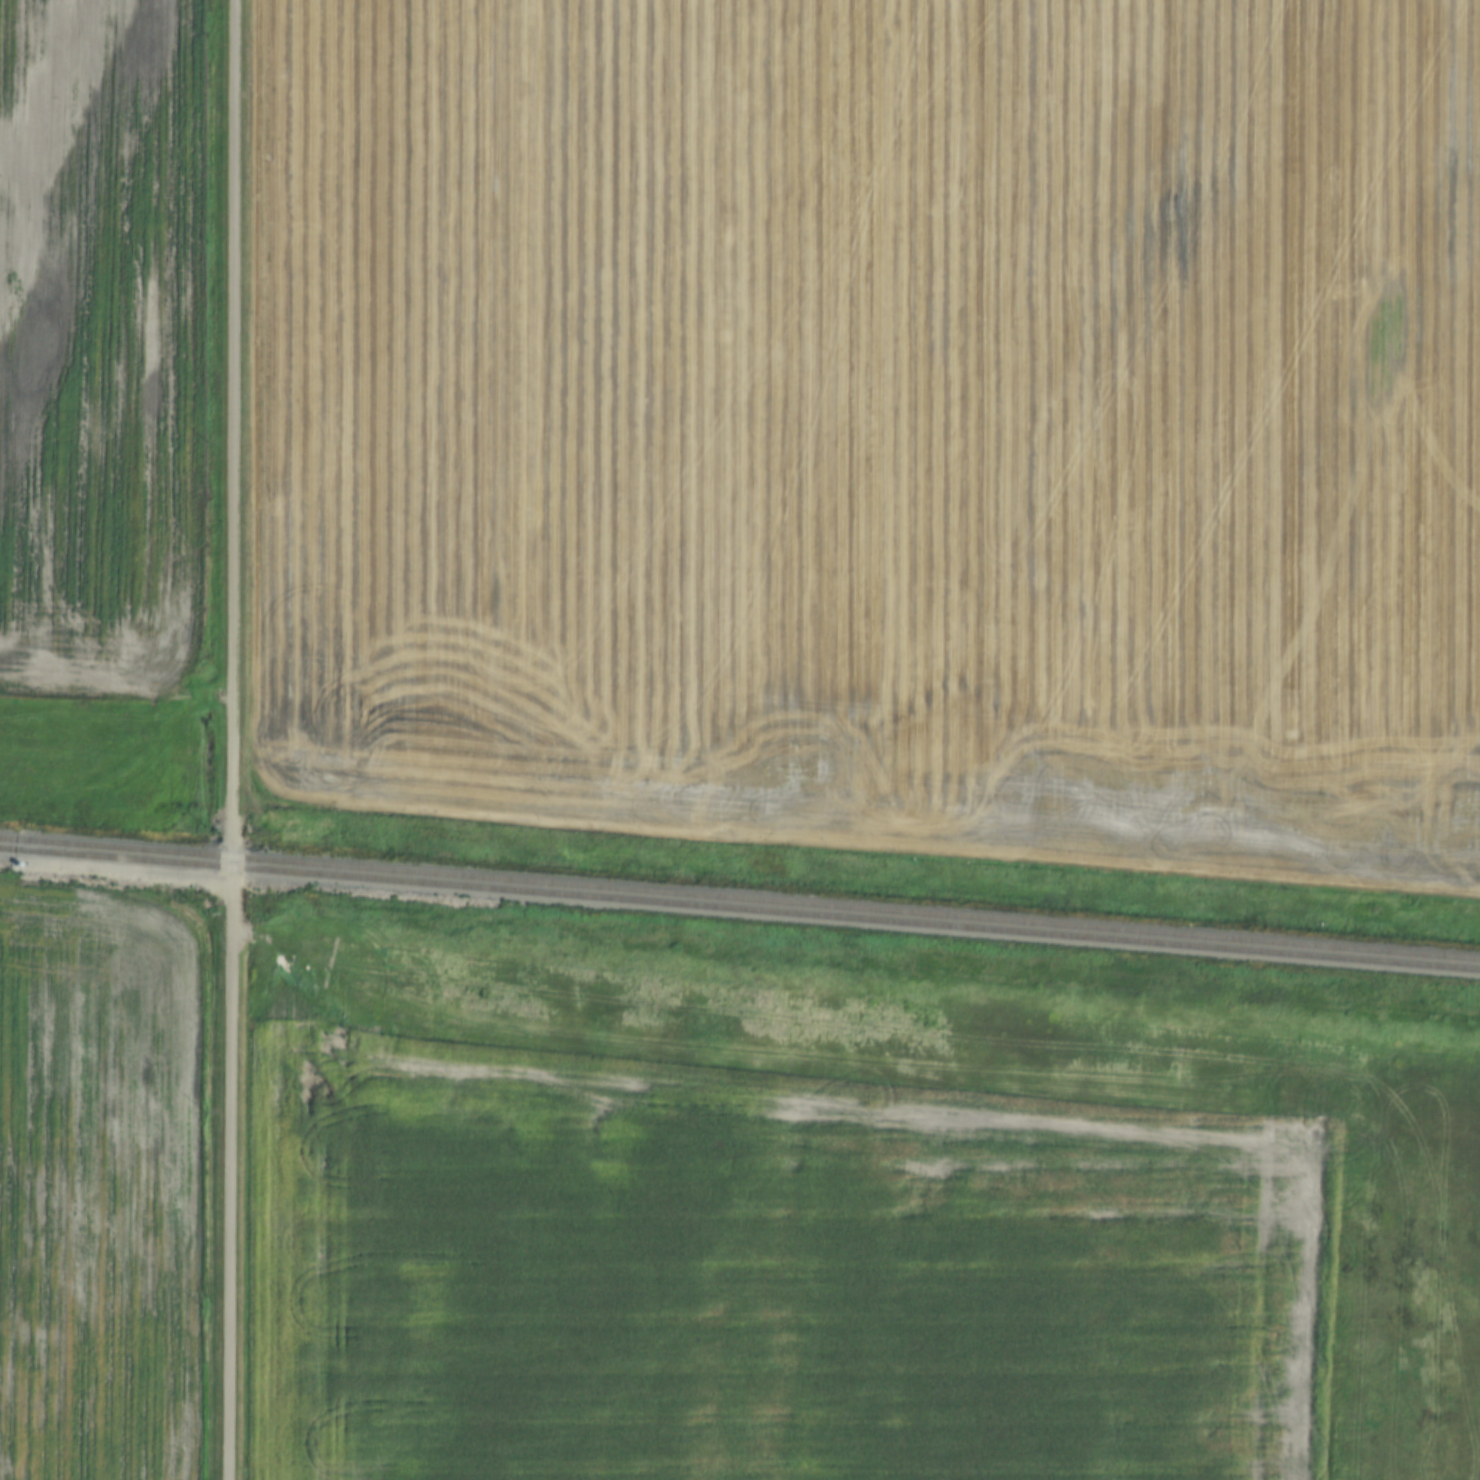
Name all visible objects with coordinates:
road: (234, 739)
railway: (740, 896)
railway: (740, 907)

